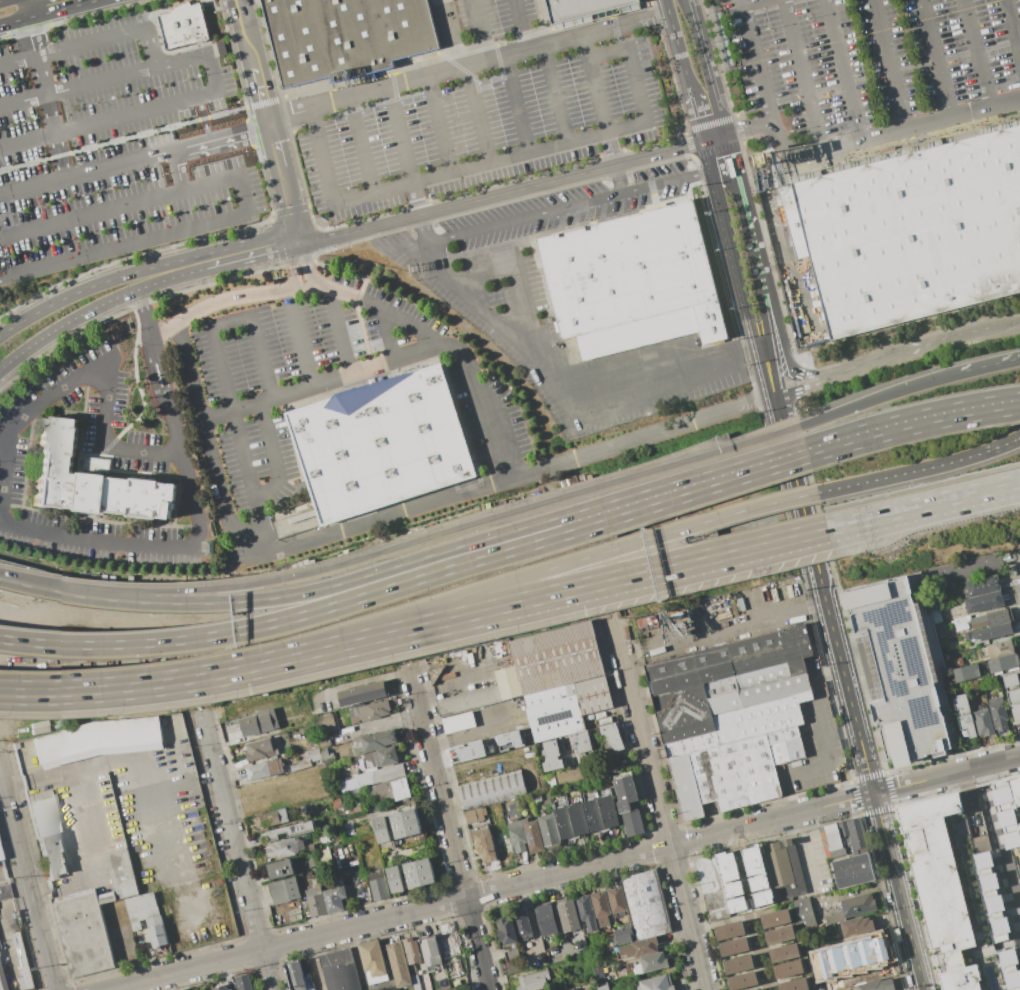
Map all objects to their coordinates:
road: (4, 1)
road: (754, 3)
building: (581, 8)
road: (26, 9)
road: (63, 10)
road: (667, 12)
road: (241, 13)
parking lot: (495, 18)
road: (12, 23)
road: (520, 25)
building: (183, 26)
road: (614, 28)
road: (1012, 29)
road: (481, 30)
building: (345, 36)
road: (29, 38)
road: (90, 43)
road: (250, 47)
road: (151, 48)
building: (218, 48)
road: (977, 54)
road: (606, 55)
road: (679, 57)
road: (935, 59)
road: (17, 61)
road: (757, 61)
parking lot: (869, 61)
road: (889, 65)
road: (468, 66)
road: (707, 66)
road: (843, 71)
road: (212, 74)
road: (802, 76)
road: (103, 82)
road: (636, 86)
road: (262, 93)
road: (555, 95)
road: (690, 95)
road: (597, 102)
building: (11, 105)
road: (516, 105)
road: (477, 115)
road: (49, 118)
road: (203, 120)
road: (108, 121)
road: (696, 122)
road: (439, 125)
road: (921, 126)
road: (749, 128)
parking lot: (483, 131)
road: (400, 135)
road: (132, 136)
road: (714, 137)
road: (222, 138)
road: (275, 144)
road: (360, 145)
parking lot: (115, 147)
road: (730, 151)
road: (789, 151)
road: (322, 157)
road: (490, 163)
road: (177, 171)
road: (86, 174)
road: (619, 181)
road: (500, 194)
road: (244, 196)
road: (416, 199)
road: (742, 200)
road: (289, 203)
road: (119, 207)
road: (568, 208)
road: (424, 229)
road: (724, 231)
building: (916, 232)
road: (124, 248)
road: (248, 250)
road: (306, 263)
road: (292, 265)
road: (759, 268)
road: (170, 277)
road: (483, 277)
building: (632, 281)
road: (96, 286)
road: (305, 289)
road: (235, 299)
parking lot: (498, 307)
road: (146, 315)
road: (135, 318)
road: (527, 318)
road: (1003, 323)
road: (65, 324)
road: (764, 327)
road: (165, 332)
road: (340, 332)
road: (387, 336)
road: (753, 336)
road: (144, 340)
road: (299, 340)
road: (447, 348)
road: (914, 348)
road: (218, 356)
road: (788, 361)
road: (978, 369)
road: (162, 370)
road: (150, 374)
parking lot: (337, 381)
road: (321, 384)
road: (809, 386)
road: (140, 396)
road: (564, 398)
road: (47, 399)
road: (870, 403)
road: (912, 425)
road: (175, 430)
road: (1015, 437)
road: (1015, 439)
road: (102, 442)
road: (207, 444)
building: (380, 444)
road: (107, 446)
parking lot: (123, 450)
road: (775, 462)
building: (94, 464)
road: (791, 464)
road: (916, 470)
road: (276, 473)
road: (5, 477)
road: (513, 477)
building: (90, 480)
road: (193, 504)
road: (923, 506)
road: (93, 542)
road: (407, 544)
road: (553, 566)
road: (375, 572)
building: (983, 586)
road: (377, 592)
road: (560, 595)
building: (984, 602)
road: (787, 604)
building: (989, 619)
building: (994, 631)
building: (1000, 649)
building: (1003, 663)
building: (563, 664)
building: (901, 671)
building: (967, 673)
road: (215, 674)
building: (1011, 680)
road: (355, 683)
building: (508, 683)
road: (68, 686)
building: (731, 690)
road: (69, 693)
building: (361, 695)
building: (1014, 696)
building: (469, 701)
building: (369, 712)
building: (554, 712)
building: (1016, 712)
building: (963, 714)
building: (999, 714)
building: (599, 717)
building: (259, 721)
building: (984, 722)
building: (459, 723)
building: (612, 735)
building: (98, 740)
building: (380, 740)
building: (508, 740)
building: (580, 742)
road: (819, 746)
building: (259, 749)
building: (471, 750)
building: (315, 754)
building: (552, 756)
building: (326, 757)
building: (380, 759)
building: (265, 768)
building: (734, 771)
building: (378, 775)
building: (575, 775)
road: (874, 783)
building: (390, 788)
building: (491, 789)
building: (625, 791)
railway: (661, 801)
road: (661, 801)
building: (345, 807)
building: (1008, 810)
building: (609, 811)
building: (475, 814)
building: (595, 815)
building: (271, 817)
building: (44, 818)
building: (579, 819)
building: (975, 821)
building: (565, 822)
building: (632, 822)
road: (77, 825)
building: (397, 825)
road: (451, 826)
building: (549, 830)
building: (292, 831)
building: (854, 835)
building: (517, 836)
building: (533, 836)
building: (833, 837)
building: (485, 844)
road: (190, 846)
building: (944, 848)
building: (283, 849)
road: (238, 851)
building: (757, 852)
building: (838, 853)
road: (801, 854)
building: (53, 856)
building: (745, 861)
building: (1007, 862)
building: (281, 870)
building: (854, 870)
building: (785, 871)
building: (122, 873)
building: (418, 873)
road: (567, 873)
road: (29, 874)
building: (396, 879)
building: (379, 884)
road: (350, 887)
building: (711, 888)
building: (284, 890)
road: (854, 890)
building: (4, 892)
building: (326, 899)
building: (616, 900)
building: (646, 905)
building: (858, 905)
building: (142, 907)
building: (601, 908)
building: (587, 912)
building: (805, 913)
road: (557, 915)
building: (568, 915)
building: (776, 918)
building: (545, 919)
building: (970, 922)
building: (522, 925)
building: (856, 926)
building: (730, 930)
building: (157, 931)
building: (507, 931)
building: (84, 935)
building: (624, 935)
building: (781, 935)
building: (446, 940)
building: (735, 946)
building: (637, 948)
building: (412, 951)
building: (430, 951)
road: (565, 951)
building: (785, 953)
building: (512, 954)
road: (867, 956)
building: (993, 959)
building: (373, 961)
building: (651, 963)
building: (739, 963)
building: (399, 964)
building: (789, 969)
building: (1009, 969)
building: (339, 970)
building: (300, 975)
building: (599, 975)
building: (3, 979)
building: (459, 979)
building: (744, 980)
building: (534, 981)
building: (243, 982)
building: (657, 983)
building: (795, 985)
building: (877, 985)
building: (602, 986)
building: (220, 988)
building: (180, 989)
building: (231, 989)
building: (311, 989)
building: (572, 989)
building: (758, 989)

